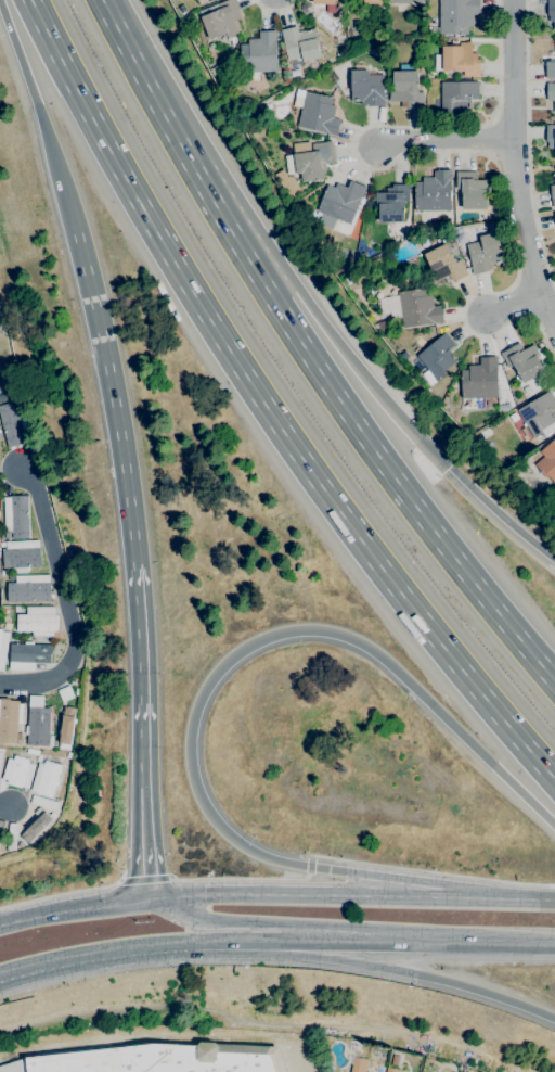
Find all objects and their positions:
building: (208, 0)
building: (201, 1)
building: (325, 1)
building: (372, 1)
building: (405, 1)
road: (274, 11)
building: (551, 12)
building: (456, 15)
building: (220, 20)
building: (300, 43)
building: (259, 53)
building: (457, 59)
building: (550, 69)
road: (146, 86)
building: (367, 88)
building: (406, 89)
building: (551, 92)
building: (457, 95)
building: (317, 112)
road: (38, 118)
building: (551, 136)
road: (443, 138)
road: (527, 143)
road: (443, 151)
building: (313, 161)
road: (514, 164)
building: (292, 190)
building: (474, 190)
building: (553, 191)
building: (434, 192)
building: (339, 203)
building: (391, 203)
building: (554, 213)
building: (493, 215)
building: (554, 218)
road: (224, 222)
building: (485, 253)
building: (443, 264)
building: (415, 307)
road: (514, 307)
building: (1, 326)
building: (438, 356)
building: (522, 361)
road: (354, 365)
building: (478, 383)
building: (0, 391)
road: (114, 398)
road: (266, 408)
building: (540, 416)
building: (14, 424)
building: (483, 433)
building: (546, 460)
traffic signals: (448, 470)
road: (396, 486)
building: (16, 515)
road: (499, 520)
building: (7, 534)
building: (21, 553)
building: (10, 577)
building: (28, 588)
road: (65, 600)
building: (15, 609)
building: (38, 621)
building: (7, 626)
building: (2, 648)
building: (28, 655)
road: (142, 677)
road: (211, 679)
building: (65, 693)
building: (10, 719)
building: (38, 723)
building: (66, 727)
building: (59, 731)
building: (31, 752)
building: (1, 755)
building: (17, 771)
building: (46, 778)
building: (44, 802)
road: (5, 805)
building: (37, 825)
building: (1, 828)
building: (12, 837)
road: (145, 843)
building: (1, 847)
road: (310, 865)
road: (433, 870)
road: (309, 877)
road: (256, 879)
road: (145, 880)
road: (61, 893)
road: (313, 894)
traffic signals: (149, 897)
road: (517, 898)
road: (74, 908)
road: (206, 924)
road: (225, 943)
road: (262, 943)
road: (351, 943)
road: (494, 944)
road: (96, 954)
road: (408, 971)
road: (1, 975)
road: (1, 975)
building: (155, 1059)
building: (359, 1064)
building: (392, 1070)

